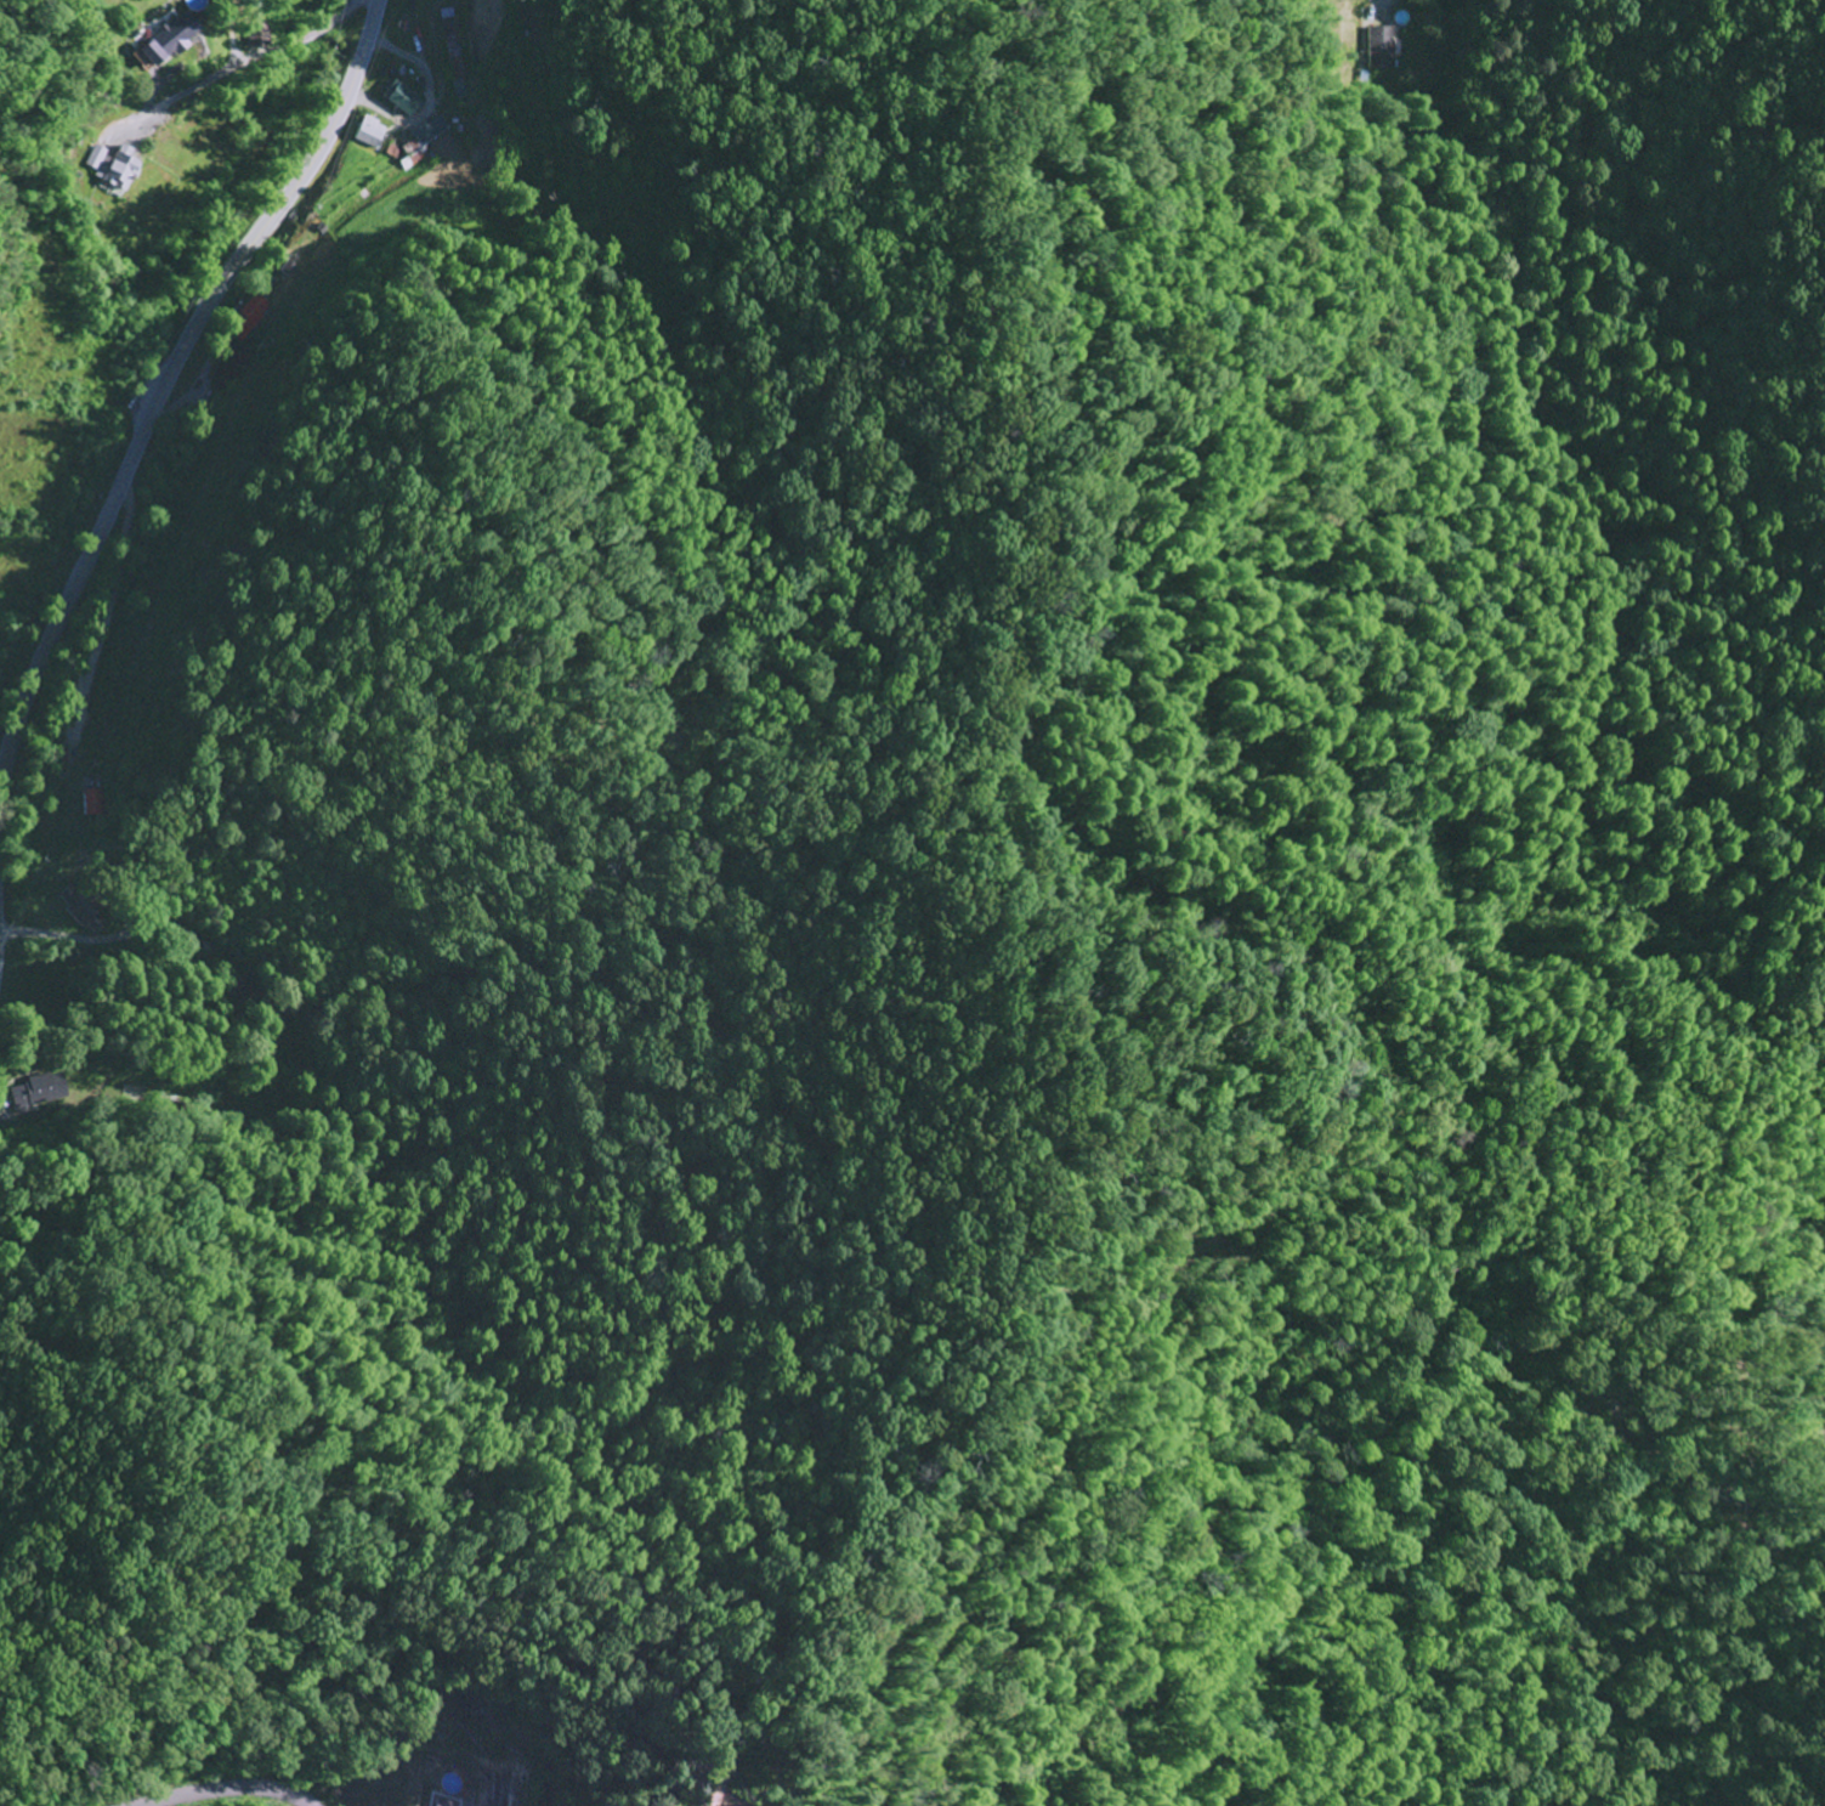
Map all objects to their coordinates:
building: (166, 40)
building: (447, 47)
building: (1381, 47)
building: (397, 100)
building: (426, 131)
building: (365, 134)
building: (407, 157)
building: (113, 166)
road: (164, 381)
road: (231, 1790)
building: (436, 1804)

